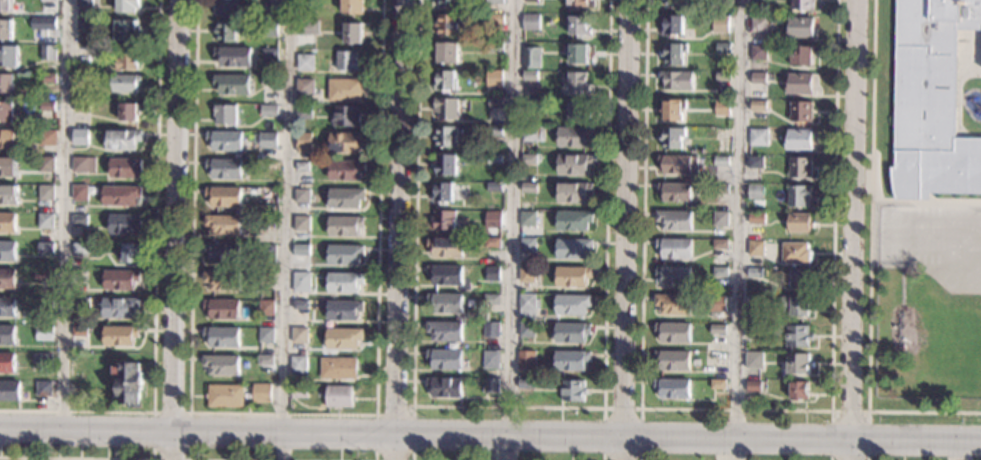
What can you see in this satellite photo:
building: (52, 0)
building: (530, 0)
building: (306, 1)
building: (724, 1)
building: (85, 2)
building: (448, 2)
building: (495, 2)
building: (580, 3)
building: (675, 3)
building: (271, 4)
building: (803, 4)
building: (6, 5)
building: (127, 5)
building: (227, 6)
building: (353, 6)
building: (530, 21)
building: (496, 22)
building: (50, 23)
building: (85, 24)
building: (449, 24)
building: (720, 24)
building: (759, 24)
building: (673, 25)
building: (580, 26)
building: (6, 27)
building: (270, 27)
building: (308, 27)
building: (800, 28)
building: (227, 29)
building: (127, 30)
building: (353, 32)
building: (496, 47)
building: (83, 48)
building: (723, 48)
building: (97, 49)
building: (49, 52)
building: (447, 52)
building: (759, 52)
building: (577, 53)
building: (674, 53)
building: (270, 54)
building: (9, 55)
building: (232, 55)
building: (802, 55)
building: (128, 58)
building: (532, 58)
building: (348, 60)
building: (305, 62)
building: (529, 74)
building: (49, 77)
building: (494, 77)
building: (722, 77)
building: (83, 78)
building: (758, 78)
building: (269, 80)
building: (445, 80)
building: (677, 80)
building: (6, 81)
building: (578, 81)
building: (127, 82)
building: (233, 83)
building: (799, 83)
building: (305, 86)
building: (344, 89)
building: (931, 100)
building: (495, 102)
building: (529, 103)
building: (48, 105)
building: (758, 106)
building: (81, 107)
building: (445, 107)
building: (722, 107)
building: (269, 110)
building: (579, 110)
building: (673, 110)
building: (6, 111)
building: (130, 111)
building: (304, 112)
building: (801, 112)
building: (225, 114)
building: (347, 115)
building: (494, 130)
building: (722, 132)
building: (532, 133)
building: (81, 136)
building: (445, 136)
building: (574, 136)
building: (48, 137)
building: (673, 137)
building: (758, 137)
building: (9, 138)
building: (124, 138)
building: (267, 139)
building: (798, 139)
building: (226, 140)
building: (303, 141)
building: (347, 141)
building: (494, 158)
building: (528, 158)
building: (721, 161)
building: (755, 162)
building: (47, 164)
building: (83, 164)
building: (269, 164)
building: (574, 164)
building: (678, 164)
building: (445, 165)
building: (9, 166)
building: (302, 166)
building: (126, 167)
building: (799, 167)
building: (225, 169)
building: (346, 169)
building: (494, 186)
building: (527, 187)
building: (721, 188)
building: (80, 191)
building: (755, 191)
building: (47, 192)
building: (443, 192)
building: (573, 192)
building: (675, 192)
building: (9, 194)
building: (123, 194)
building: (267, 195)
building: (301, 195)
building: (798, 195)
building: (225, 196)
building: (346, 197)
road: (926, 200)
road: (66, 214)
building: (492, 214)
building: (756, 218)
building: (80, 219)
building: (443, 219)
building: (528, 219)
building: (720, 219)
building: (46, 220)
building: (267, 220)
building: (573, 220)
building: (675, 220)
building: (7, 222)
building: (800, 222)
building: (125, 223)
building: (223, 223)
building: (301, 223)
building: (345, 225)
road: (177, 230)
road: (285, 230)
road: (398, 230)
road: (509, 230)
road: (627, 230)
road: (735, 230)
road: (854, 230)
park: (896, 235)
building: (490, 242)
building: (720, 244)
building: (527, 245)
building: (446, 246)
building: (46, 248)
building: (80, 248)
building: (302, 248)
building: (675, 248)
building: (756, 248)
building: (573, 249)
building: (8, 250)
building: (132, 252)
building: (224, 252)
building: (344, 252)
building: (267, 253)
building: (795, 253)
road: (870, 261)
building: (720, 271)
building: (754, 272)
building: (44, 274)
building: (492, 274)
building: (526, 274)
building: (446, 275)
building: (673, 276)
building: (267, 277)
building: (573, 277)
building: (8, 278)
building: (79, 278)
building: (800, 278)
building: (121, 279)
building: (223, 279)
building: (301, 281)
building: (344, 281)
road: (155, 283)
building: (492, 300)
building: (754, 300)
building: (45, 301)
building: (719, 302)
building: (80, 303)
building: (446, 303)
building: (300, 304)
building: (572, 304)
building: (674, 304)
building: (795, 305)
building: (7, 306)
building: (527, 306)
building: (121, 307)
building: (266, 307)
building: (224, 308)
building: (344, 310)
building: (491, 328)
building: (526, 329)
building: (718, 330)
building: (44, 331)
building: (80, 331)
building: (445, 331)
building: (754, 331)
building: (571, 332)
building: (673, 332)
building: (7, 334)
building: (266, 334)
building: (300, 334)
building: (121, 335)
building: (222, 336)
building: (797, 336)
building: (343, 338)
park: (926, 338)
building: (41, 357)
building: (445, 358)
building: (490, 358)
building: (718, 359)
building: (754, 359)
building: (266, 360)
building: (526, 360)
building: (571, 360)
building: (672, 361)
building: (7, 362)
building: (298, 363)
building: (223, 364)
building: (799, 365)
building: (338, 367)
building: (130, 383)
building: (525, 383)
building: (717, 384)
building: (490, 385)
building: (756, 386)
building: (444, 387)
building: (44, 388)
building: (672, 388)
building: (797, 389)
building: (9, 390)
building: (573, 390)
building: (299, 391)
building: (262, 392)
building: (227, 395)
building: (339, 395)
road: (509, 407)
road: (621, 408)
road: (398, 409)
road: (736, 410)
road: (849, 411)
road: (189, 413)
road: (283, 414)
road: (490, 434)
road: (956, 450)
road: (76, 458)

